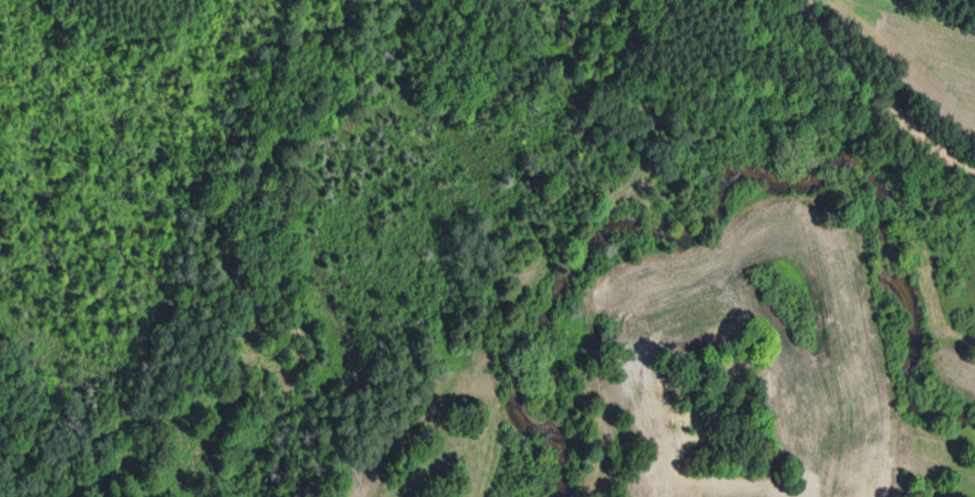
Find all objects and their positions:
road: (809, 14)
road: (871, 86)
river: (724, 189)

